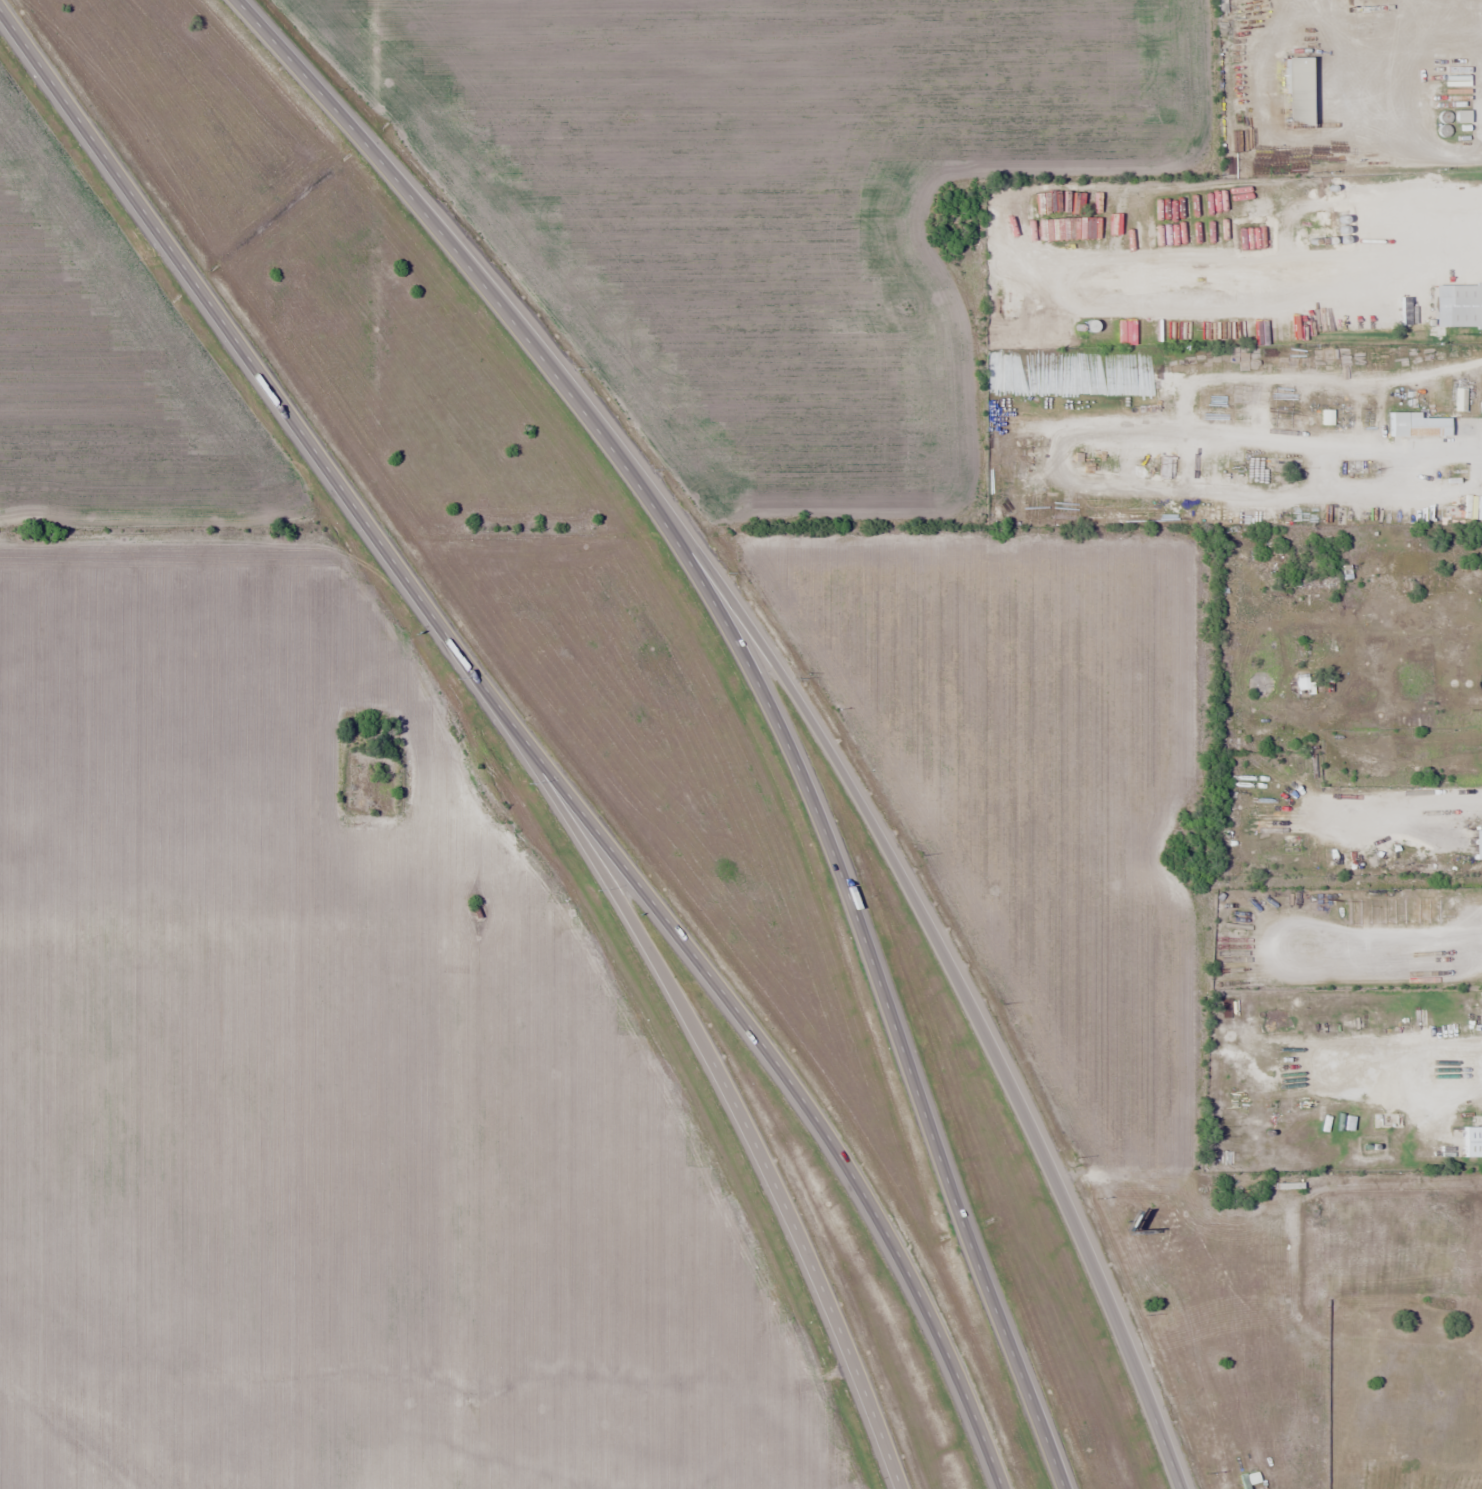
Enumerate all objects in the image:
building: (1295, 94)
building: (1456, 306)
building: (1415, 426)
road: (757, 683)
building: (1302, 683)
road: (523, 737)
building: (1477, 844)
road: (937, 945)
road: (726, 1093)
building: (1471, 1141)

